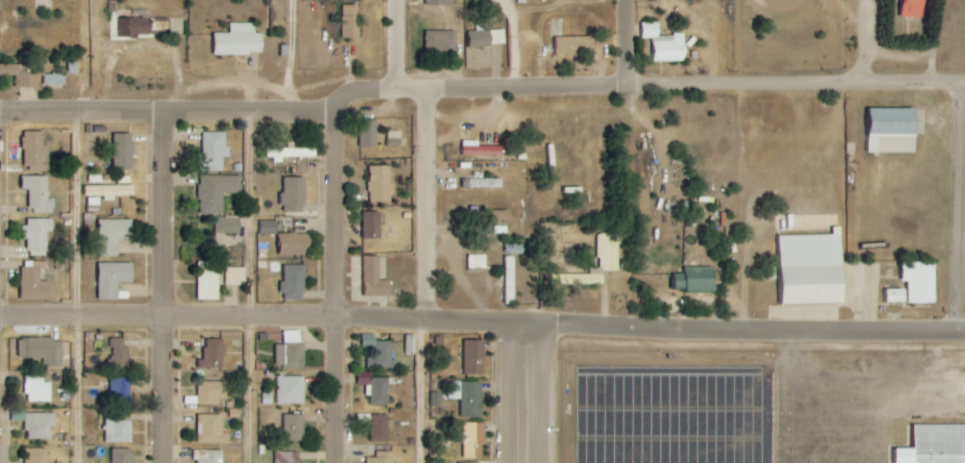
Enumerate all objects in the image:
building: (438, 2)
building: (914, 8)
building: (350, 22)
building: (134, 27)
building: (486, 38)
building: (239, 41)
building: (441, 42)
road: (623, 43)
building: (665, 44)
road: (391, 45)
building: (575, 46)
road: (288, 56)
building: (21, 75)
building: (54, 79)
road: (695, 86)
road: (408, 90)
road: (198, 115)
building: (892, 131)
building: (368, 134)
building: (394, 138)
building: (35, 152)
building: (213, 152)
building: (289, 153)
building: (123, 154)
building: (484, 183)
building: (379, 184)
building: (109, 191)
building: (217, 192)
building: (38, 194)
building: (294, 195)
road: (423, 205)
building: (372, 225)
building: (228, 226)
building: (269, 227)
road: (75, 231)
building: (37, 234)
building: (113, 235)
building: (293, 244)
building: (608, 251)
building: (477, 262)
building: (235, 276)
building: (113, 279)
building: (374, 279)
building: (509, 280)
building: (694, 280)
road: (962, 280)
building: (208, 281)
building: (34, 282)
building: (920, 282)
building: (294, 283)
road: (335, 284)
road: (169, 288)
road: (248, 289)
building: (895, 296)
road: (482, 322)
building: (410, 344)
building: (43, 350)
building: (290, 351)
building: (119, 352)
building: (378, 352)
building: (213, 354)
building: (474, 357)
building: (365, 379)
building: (38, 390)
building: (120, 390)
building: (290, 390)
building: (381, 391)
building: (211, 392)
road: (420, 392)
road: (523, 393)
building: (468, 397)
building: (39, 425)
building: (294, 427)
building: (380, 427)
building: (117, 429)
building: (211, 429)
building: (474, 440)
building: (934, 445)
building: (123, 456)
building: (210, 456)
building: (289, 457)
building: (382, 457)
building: (462, 462)

